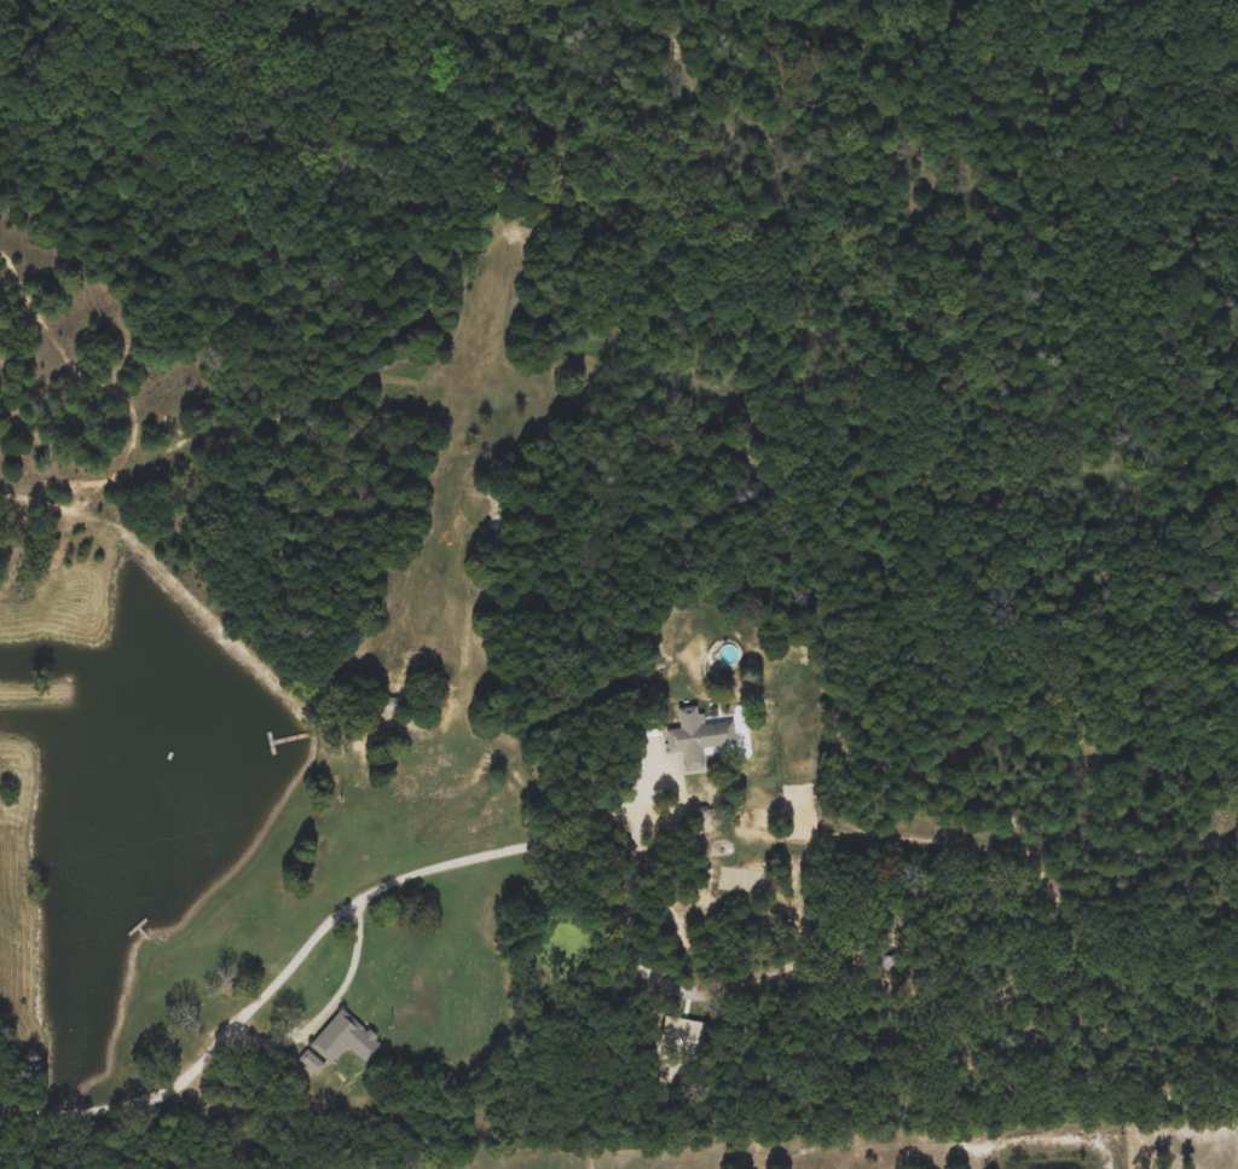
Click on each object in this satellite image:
building: (698, 737)
road: (306, 954)
building: (335, 1037)

